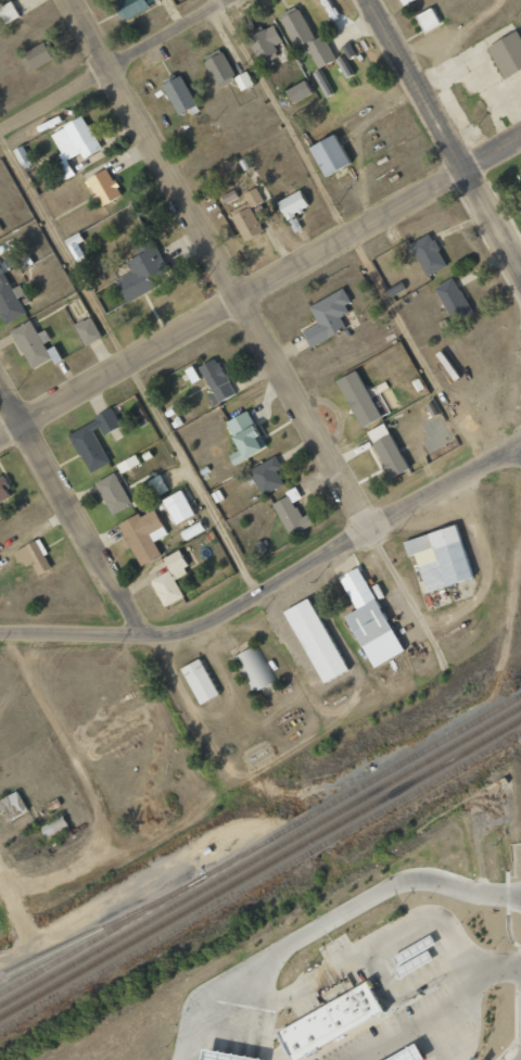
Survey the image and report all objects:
building: (404, 1)
building: (407, 1)
building: (131, 7)
building: (8, 12)
building: (432, 17)
building: (313, 37)
building: (271, 42)
building: (508, 42)
building: (39, 54)
road: (113, 63)
building: (226, 73)
building: (319, 79)
building: (303, 89)
building: (179, 94)
road: (444, 130)
building: (73, 146)
building: (334, 150)
park: (511, 184)
building: (103, 187)
building: (253, 197)
building: (292, 204)
building: (246, 224)
road: (351, 232)
building: (75, 245)
building: (433, 253)
building: (141, 272)
road: (259, 286)
building: (458, 298)
building: (10, 301)
building: (327, 317)
road: (256, 330)
building: (87, 331)
building: (33, 346)
road: (130, 364)
building: (216, 382)
building: (358, 399)
building: (244, 438)
building: (93, 440)
building: (387, 450)
building: (267, 476)
building: (156, 485)
building: (4, 491)
building: (113, 493)
building: (178, 507)
road: (72, 509)
building: (291, 514)
building: (142, 535)
building: (443, 553)
building: (33, 557)
building: (175, 561)
road: (274, 588)
building: (166, 589)
building: (369, 620)
building: (315, 641)
building: (254, 668)
building: (199, 681)
building: (11, 806)
building: (55, 828)
railway: (259, 844)
railway: (260, 856)
railway: (260, 868)
railway: (260, 881)
railway: (103, 926)
building: (418, 947)
gas station: (418, 947)
building: (405, 960)
building: (418, 961)
gas station: (418, 961)
building: (333, 1018)
building: (409, 1051)
gas station: (409, 1051)
building: (230, 1053)
gas station: (230, 1053)

